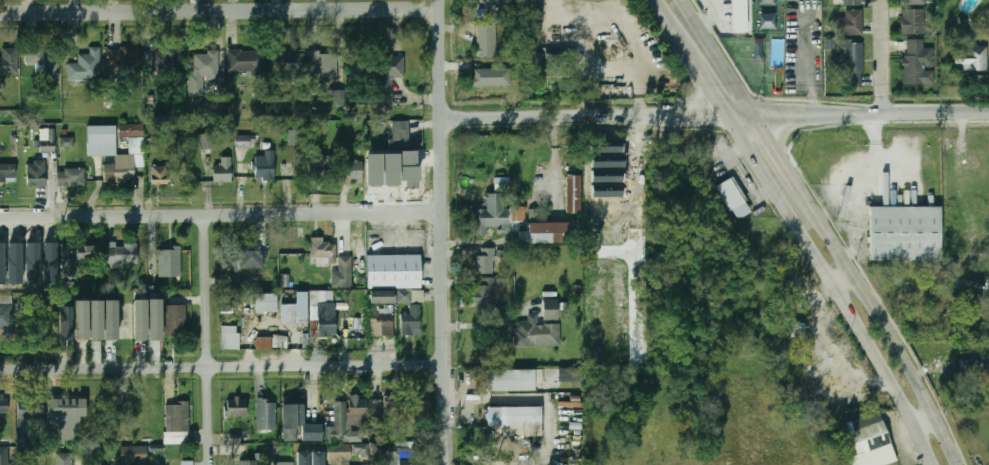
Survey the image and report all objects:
building: (508, 0)
building: (853, 2)
building: (913, 2)
building: (472, 10)
road: (220, 12)
building: (739, 16)
road: (668, 21)
building: (913, 21)
building: (848, 23)
building: (487, 40)
road: (883, 57)
building: (550, 58)
road: (719, 58)
building: (971, 58)
building: (163, 59)
building: (45, 60)
building: (125, 61)
building: (246, 61)
building: (9, 62)
building: (288, 62)
building: (850, 63)
building: (918, 63)
building: (323, 65)
building: (86, 66)
building: (202, 70)
building: (489, 77)
building: (387, 78)
road: (705, 79)
building: (337, 98)
road: (716, 116)
building: (401, 134)
building: (294, 137)
building: (208, 141)
building: (68, 142)
building: (244, 142)
building: (47, 145)
building: (101, 146)
road: (775, 147)
building: (265, 166)
building: (390, 166)
building: (974, 166)
building: (320, 169)
building: (222, 170)
building: (351, 171)
building: (8, 172)
building: (35, 173)
building: (159, 175)
building: (71, 177)
road: (865, 187)
building: (731, 194)
building: (572, 195)
road: (841, 202)
road: (221, 215)
building: (493, 216)
road: (444, 232)
building: (550, 232)
building: (905, 232)
building: (88, 253)
building: (123, 254)
building: (247, 255)
building: (485, 261)
building: (67, 262)
building: (175, 263)
building: (334, 263)
building: (395, 271)
road: (848, 285)
road: (833, 289)
building: (484, 290)
building: (381, 296)
building: (404, 296)
building: (322, 297)
building: (266, 303)
building: (551, 309)
building: (295, 310)
building: (6, 316)
road: (884, 317)
building: (140, 319)
building: (175, 319)
building: (81, 320)
building: (96, 320)
building: (110, 320)
building: (154, 320)
building: (411, 321)
building: (66, 323)
building: (326, 324)
building: (354, 327)
building: (381, 327)
building: (537, 333)
building: (230, 337)
building: (800, 339)
road: (208, 340)
building: (263, 343)
road: (223, 366)
building: (570, 374)
building: (511, 380)
road: (496, 397)
building: (394, 401)
building: (3, 403)
building: (236, 407)
building: (364, 409)
building: (149, 410)
building: (66, 412)
building: (266, 415)
building: (514, 416)
building: (177, 417)
building: (29, 418)
building: (337, 423)
building: (299, 425)
road: (929, 428)
building: (869, 438)
building: (359, 448)
building: (6, 455)
building: (134, 455)
building: (318, 457)
building: (62, 459)
building: (392, 459)
building: (337, 460)
building: (248, 462)
building: (187, 463)
building: (20, 464)
building: (29, 464)
building: (288, 464)
building: (312, 464)

